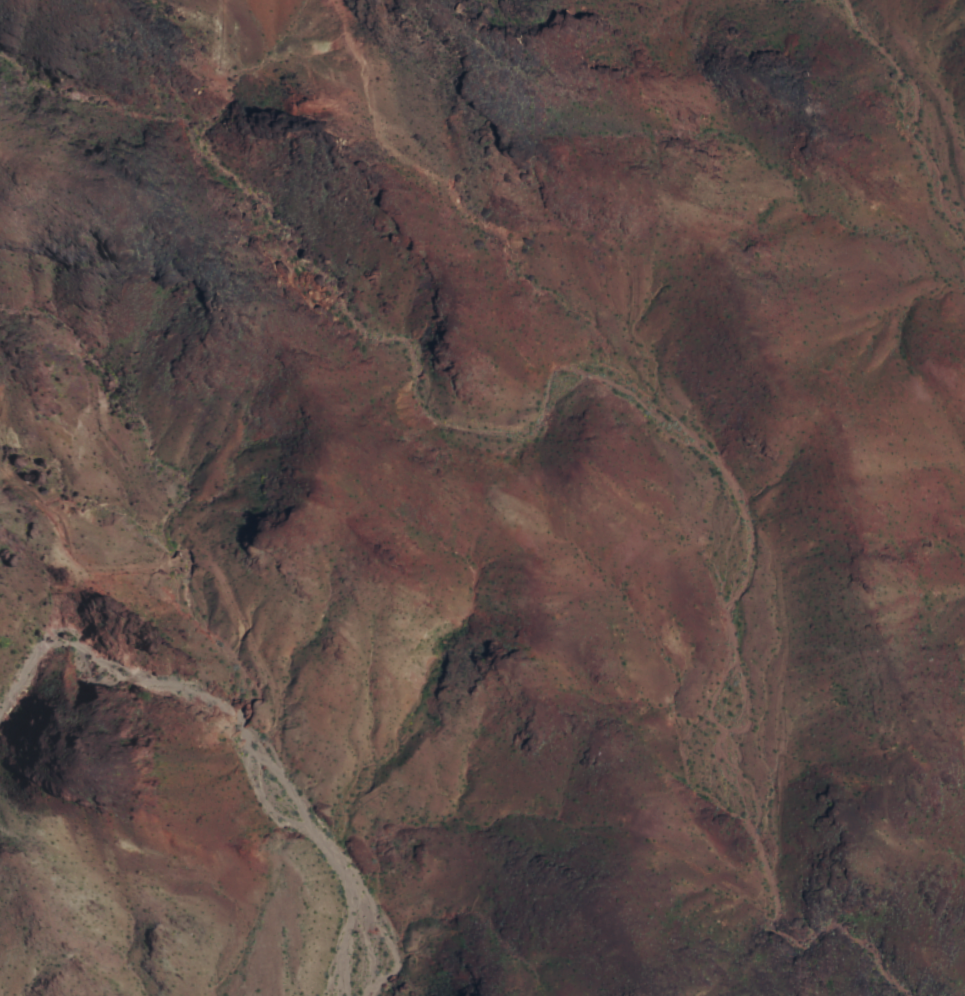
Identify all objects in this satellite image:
road: (248, 859)

